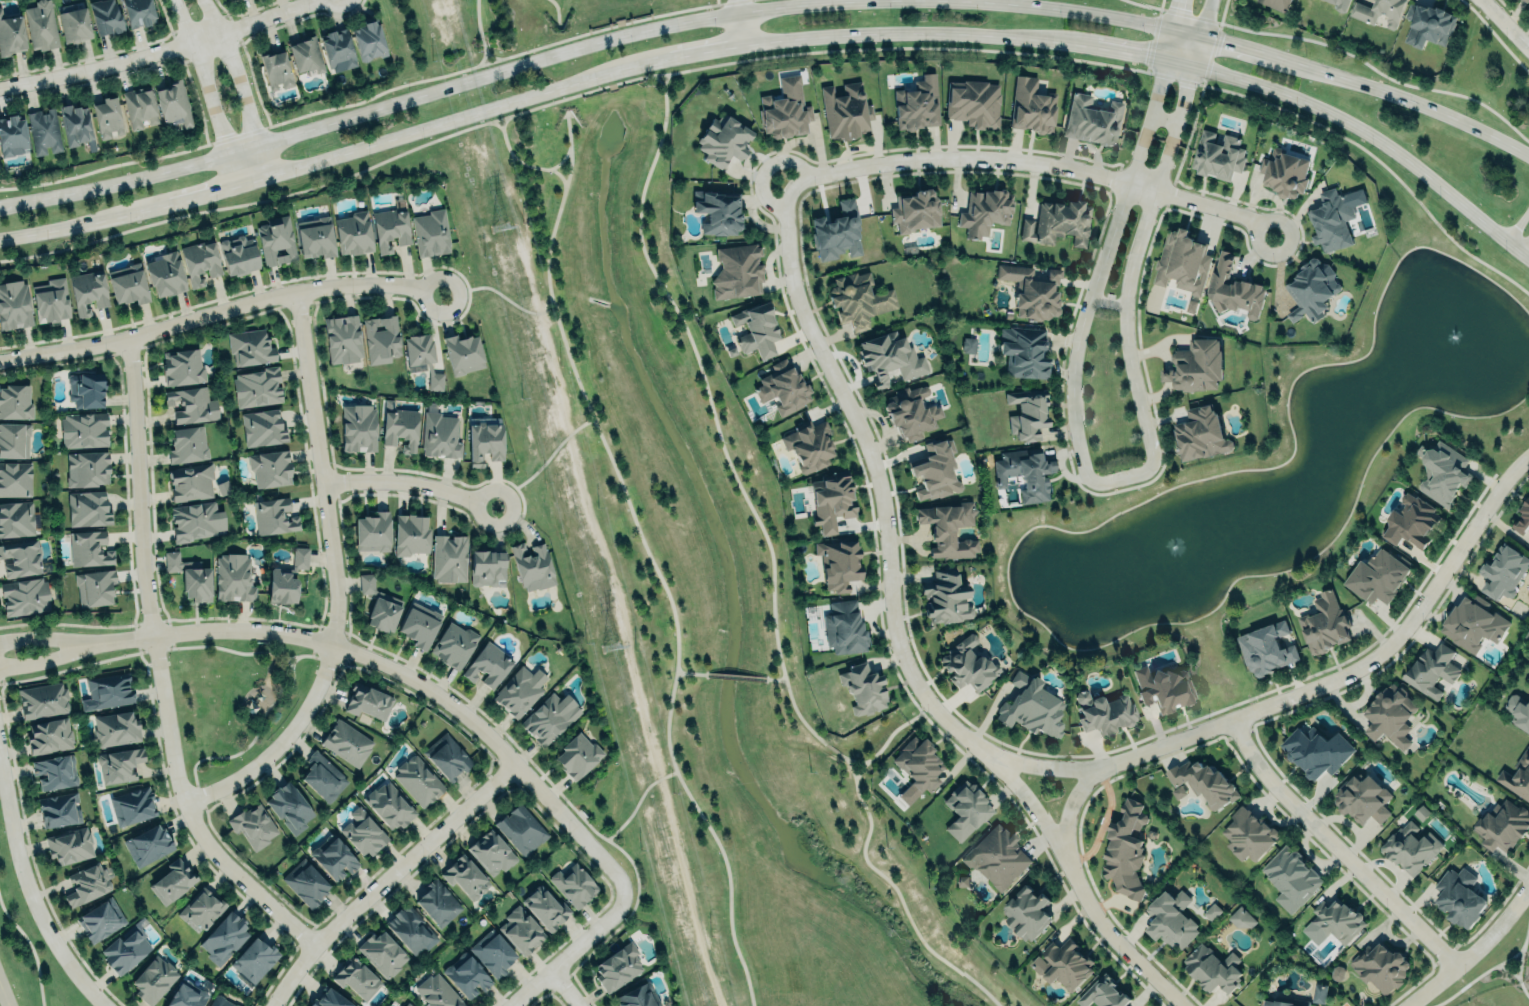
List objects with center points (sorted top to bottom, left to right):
building: (1526, 0)
road: (717, 2)
building: (1276, 4)
building: (1340, 5)
road: (557, 9)
building: (1379, 11)
building: (138, 12)
road: (1155, 13)
building: (106, 16)
road: (1204, 19)
road: (1216, 20)
road: (741, 22)
building: (73, 23)
building: (1428, 23)
building: (41, 25)
road: (1502, 27)
road: (1168, 29)
building: (11, 33)
road: (896, 34)
road: (1184, 34)
road: (482, 35)
building: (368, 38)
road: (576, 46)
building: (337, 49)
road: (1118, 50)
road: (1335, 50)
road: (1248, 51)
road: (685, 52)
road: (1194, 52)
road: (155, 53)
road: (786, 54)
building: (305, 55)
road: (494, 56)
building: (275, 69)
road: (653, 77)
road: (236, 84)
road: (206, 90)
road: (1153, 94)
road: (373, 95)
building: (172, 101)
road: (1180, 102)
building: (917, 103)
building: (973, 103)
road: (1416, 104)
building: (138, 106)
building: (1031, 106)
building: (784, 109)
building: (845, 110)
building: (106, 116)
building: (1091, 119)
road: (445, 120)
building: (76, 125)
building: (44, 132)
building: (11, 135)
building: (723, 139)
road: (1371, 140)
building: (1218, 155)
road: (1028, 162)
road: (525, 164)
building: (1285, 173)
road: (559, 175)
road: (200, 192)
building: (717, 210)
building: (915, 210)
building: (985, 211)
building: (1331, 219)
building: (1057, 221)
road: (68, 224)
road: (1516, 224)
building: (390, 227)
power tower: (497, 229)
building: (836, 231)
building: (430, 232)
building: (353, 233)
building: (315, 236)
building: (275, 241)
road: (1519, 243)
building: (238, 255)
building: (199, 261)
building: (1182, 263)
building: (737, 270)
building: (165, 274)
building: (127, 283)
building: (1233, 288)
building: (1311, 289)
building: (86, 290)
road: (497, 290)
building: (1031, 290)
building: (858, 298)
building: (51, 300)
building: (14, 304)
road: (219, 311)
road: (1123, 313)
road: (1080, 319)
fountain: (1445, 328)
building: (757, 329)
building: (342, 338)
building: (381, 338)
building: (968, 345)
building: (250, 347)
building: (418, 348)
building: (1023, 351)
building: (462, 353)
building: (889, 357)
building: (1195, 365)
building: (182, 366)
road: (699, 378)
building: (256, 386)
building: (782, 387)
building: (86, 389)
building: (15, 401)
building: (191, 404)
building: (910, 411)
building: (1027, 412)
building: (261, 427)
building: (358, 428)
building: (400, 428)
building: (83, 429)
building: (439, 433)
building: (1200, 433)
building: (14, 440)
building: (484, 442)
building: (187, 444)
building: (808, 445)
road: (543, 464)
building: (270, 467)
building: (88, 468)
building: (934, 469)
building: (1024, 472)
building: (1441, 472)
building: (15, 478)
road: (409, 481)
building: (190, 482)
building: (830, 499)
building: (88, 508)
building: (273, 516)
park: (666, 517)
building: (16, 518)
building: (1522, 518)
building: (196, 520)
building: (1410, 521)
building: (948, 529)
building: (372, 532)
building: (410, 534)
fountain: (1170, 545)
building: (88, 548)
fountain: (1169, 548)
building: (448, 557)
building: (20, 558)
road: (649, 562)
building: (838, 563)
building: (532, 565)
building: (487, 567)
building: (1503, 571)
building: (190, 576)
building: (1377, 576)
building: (233, 578)
road: (335, 578)
building: (94, 587)
building: (281, 587)
building: (24, 595)
building: (945, 597)
building: (378, 605)
building: (1324, 624)
building: (1471, 624)
building: (418, 627)
building: (843, 627)
road: (897, 634)
road: (45, 638)
building: (454, 644)
power tower: (608, 647)
building: (1265, 648)
road: (46, 657)
building: (487, 664)
building: (967, 664)
road: (156, 669)
building: (1432, 670)
road: (687, 672)
road: (400, 673)
road: (732, 675)
road: (771, 678)
building: (1528, 682)
building: (1163, 687)
building: (863, 688)
building: (108, 689)
building: (519, 691)
road: (1304, 692)
park: (234, 697)
building: (42, 700)
building: (368, 701)
building: (1030, 706)
road: (918, 711)
building: (1104, 712)
building: (1518, 712)
building: (1388, 716)
building: (549, 717)
road: (797, 718)
building: (115, 728)
building: (49, 735)
building: (346, 742)
building: (1315, 751)
building: (576, 755)
building: (446, 756)
road: (844, 758)
building: (119, 764)
building: (917, 768)
building: (54, 772)
building: (323, 776)
building: (1517, 778)
building: (418, 780)
building: (1203, 783)
building: (1362, 799)
building: (132, 805)
building: (390, 805)
building: (289, 807)
building: (58, 809)
building: (963, 809)
road: (633, 810)
road: (1073, 811)
building: (253, 825)
building: (1502, 826)
building: (521, 829)
building: (363, 833)
building: (1247, 834)
building: (148, 844)
building: (69, 845)
road: (1337, 848)
building: (1410, 848)
building: (1125, 850)
building: (491, 852)
building: (996, 857)
building: (334, 858)
road: (874, 872)
building: (465, 877)
building: (1290, 877)
road: (385, 878)
building: (172, 881)
building: (305, 882)
building: (87, 884)
building: (573, 884)
building: (1459, 897)
road: (32, 901)
building: (438, 903)
building: (201, 907)
building: (545, 908)
building: (1212, 911)
building: (1026, 913)
building: (100, 919)
building: (1170, 919)
building: (1241, 919)
building: (1328, 920)
building: (410, 930)
building: (520, 930)
building: (224, 937)
road: (1521, 943)
building: (125, 947)
road: (1475, 950)
building: (382, 953)
building: (492, 953)
road: (567, 953)
building: (253, 960)
building: (1065, 965)
building: (617, 967)
building: (1380, 967)
building: (1212, 969)
road: (1504, 971)
building: (466, 975)
road: (1475, 976)
building: (356, 977)
building: (153, 979)
road: (562, 987)
building: (436, 992)
building: (1101, 993)
building: (1318, 993)
road: (1521, 993)
building: (186, 995)
park: (1503, 995)
road: (3, 996)
building: (638, 996)
building: (330, 999)
building: (220, 1001)
building: (1276, 1003)
building: (407, 1004)
building: (402, 1005)

